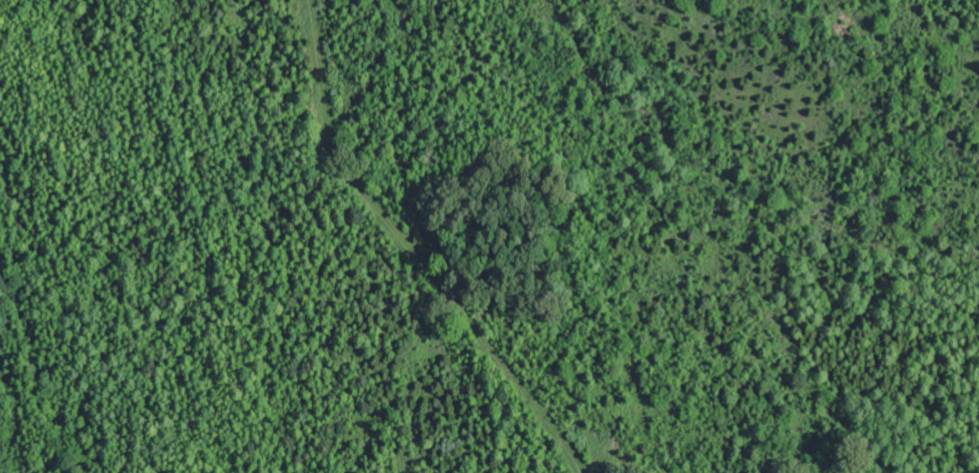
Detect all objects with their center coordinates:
road: (624, 193)

